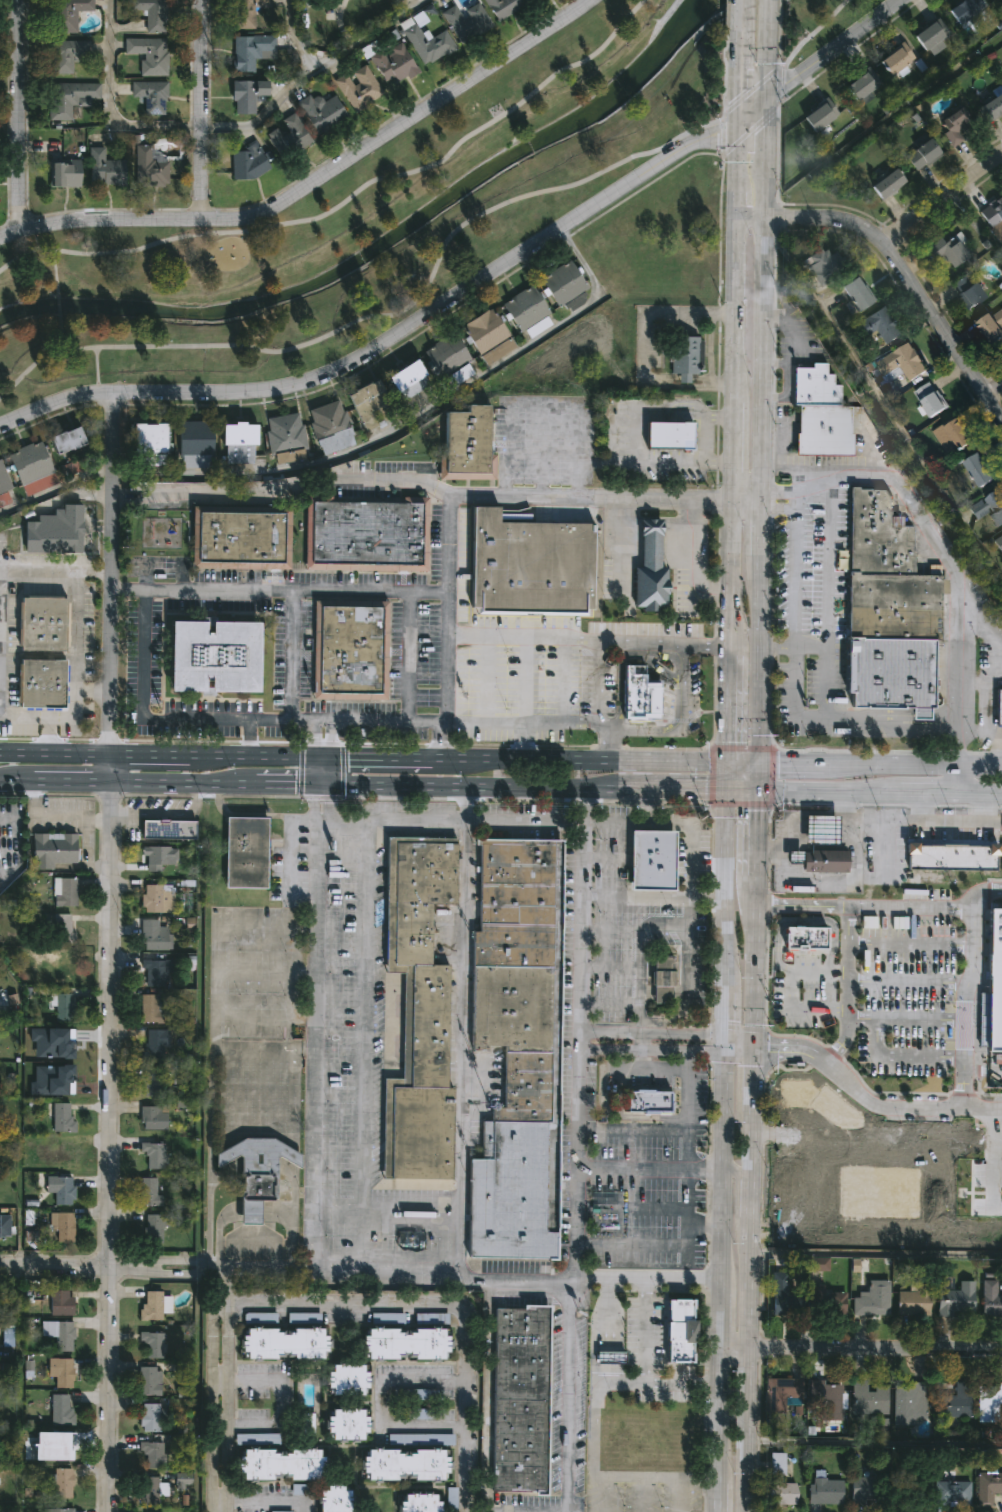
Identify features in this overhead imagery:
building: (504, 7)
building: (246, 12)
building: (963, 12)
road: (769, 13)
building: (69, 14)
road: (727, 14)
road: (740, 14)
road: (778, 15)
building: (148, 16)
building: (467, 22)
building: (930, 33)
road: (287, 39)
building: (430, 44)
road: (799, 45)
building: (251, 51)
building: (150, 54)
building: (68, 55)
building: (895, 59)
building: (395, 64)
road: (311, 72)
building: (861, 84)
building: (360, 88)
building: (249, 96)
traffic signals: (770, 96)
building: (152, 97)
building: (70, 98)
road: (109, 103)
building: (992, 106)
road: (198, 110)
building: (323, 112)
road: (17, 115)
building: (819, 115)
traffic signals: (738, 125)
building: (956, 127)
building: (290, 137)
building: (922, 155)
building: (251, 163)
building: (107, 169)
building: (151, 169)
building: (67, 175)
road: (316, 182)
building: (887, 184)
road: (346, 198)
road: (943, 199)
park: (394, 208)
building: (992, 211)
building: (948, 251)
road: (766, 263)
road: (904, 265)
building: (822, 266)
road: (55, 271)
building: (572, 279)
road: (476, 286)
building: (556, 288)
building: (968, 291)
building: (855, 294)
road: (423, 295)
road: (58, 305)
building: (535, 309)
building: (521, 317)
building: (878, 325)
building: (991, 326)
building: (493, 327)
road: (61, 336)
building: (478, 337)
road: (641, 345)
road: (710, 349)
building: (457, 356)
road: (734, 356)
building: (686, 357)
building: (901, 362)
building: (442, 365)
building: (414, 374)
building: (401, 382)
road: (992, 384)
building: (816, 387)
building: (930, 399)
building: (379, 403)
building: (365, 410)
road: (698, 411)
building: (336, 416)
building: (321, 421)
road: (640, 423)
building: (824, 430)
building: (295, 431)
building: (275, 435)
building: (952, 436)
building: (667, 437)
road: (675, 437)
road: (706, 438)
building: (76, 439)
building: (143, 439)
building: (161, 439)
building: (186, 439)
building: (204, 439)
building: (232, 442)
building: (248, 443)
building: (465, 444)
building: (62, 445)
road: (351, 449)
road: (675, 456)
building: (39, 462)
road: (637, 462)
building: (70, 468)
building: (22, 469)
building: (977, 469)
building: (3, 482)
road: (281, 491)
road: (461, 500)
road: (748, 500)
road: (781, 501)
road: (797, 505)
building: (989, 506)
building: (56, 533)
building: (366, 535)
building: (879, 538)
building: (239, 539)
building: (999, 542)
road: (693, 560)
building: (528, 568)
road: (91, 570)
building: (655, 573)
road: (797, 578)
road: (127, 591)
road: (160, 591)
road: (826, 601)
building: (894, 608)
building: (43, 625)
road: (984, 625)
road: (760, 631)
road: (522, 636)
road: (617, 641)
road: (74, 644)
road: (744, 646)
road: (779, 646)
road: (812, 648)
building: (350, 651)
road: (292, 657)
building: (215, 658)
road: (408, 658)
road: (956, 659)
building: (889, 675)
road: (979, 679)
parking lot: (520, 680)
building: (43, 684)
road: (90, 691)
building: (640, 695)
building: (999, 709)
road: (306, 721)
road: (382, 722)
road: (542, 724)
road: (682, 724)
road: (726, 724)
road: (990, 735)
road: (48, 736)
road: (249, 738)
road: (321, 738)
road: (955, 747)
road: (160, 754)
traffic signals: (321, 756)
road: (523, 757)
traffic signals: (725, 762)
road: (740, 762)
traffic signals: (756, 762)
road: (879, 763)
road: (320, 770)
road: (724, 775)
road: (756, 775)
road: (9, 778)
road: (953, 779)
road: (63, 780)
road: (175, 782)
road: (281, 784)
traffic signals: (320, 785)
road: (483, 786)
road: (685, 787)
traffic signals: (724, 788)
road: (740, 788)
traffic signals: (756, 789)
road: (827, 790)
road: (925, 793)
road: (977, 794)
road: (465, 804)
road: (581, 805)
road: (647, 805)
road: (815, 815)
road: (78, 816)
road: (166, 816)
road: (450, 822)
road: (950, 822)
road: (97, 823)
road: (670, 824)
road: (755, 829)
building: (168, 830)
building: (820, 835)
road: (1, 845)
building: (52, 848)
building: (247, 853)
building: (953, 856)
building: (159, 857)
building: (794, 859)
road: (290, 860)
building: (652, 862)
building: (825, 863)
road: (854, 885)
building: (65, 891)
road: (979, 893)
road: (652, 897)
building: (156, 898)
building: (60, 927)
building: (154, 935)
building: (805, 941)
road: (902, 946)
road: (108, 952)
road: (342, 958)
building: (64, 967)
building: (153, 970)
building: (663, 981)
road: (840, 983)
road: (902, 984)
parking lot: (886, 990)
building: (991, 991)
road: (791, 993)
building: (63, 1008)
building: (150, 1008)
building: (416, 1015)
road: (915, 1023)
parking lot: (331, 1024)
road: (959, 1024)
road: (633, 1041)
road: (212, 1042)
building: (65, 1043)
road: (704, 1043)
building: (155, 1044)
road: (738, 1044)
road: (463, 1048)
building: (517, 1051)
road: (579, 1052)
road: (880, 1059)
road: (365, 1068)
road: (980, 1074)
parking lot: (577, 1075)
building: (65, 1080)
building: (150, 1081)
road: (341, 1096)
building: (648, 1104)
road: (684, 1107)
road: (980, 1110)
building: (61, 1116)
building: (152, 1117)
road: (722, 1150)
building: (62, 1153)
building: (152, 1154)
building: (260, 1158)
road: (316, 1159)
road: (631, 1169)
road: (702, 1171)
road: (737, 1171)
building: (62, 1190)
building: (260, 1190)
building: (147, 1191)
road: (751, 1191)
building: (252, 1213)
road: (340, 1218)
building: (63, 1227)
building: (154, 1227)
road: (702, 1227)
road: (255, 1239)
road: (670, 1248)
road: (876, 1254)
road: (270, 1262)
road: (74, 1267)
road: (648, 1280)
building: (783, 1298)
building: (872, 1298)
building: (956, 1299)
building: (991, 1299)
building: (60, 1302)
building: (828, 1302)
building: (912, 1303)
building: (150, 1306)
road: (436, 1307)
building: (680, 1329)
road: (637, 1332)
building: (58, 1334)
building: (284, 1342)
building: (406, 1342)
building: (151, 1344)
road: (226, 1347)
road: (860, 1349)
building: (611, 1356)
road: (211, 1362)
building: (59, 1372)
building: (347, 1378)
road: (593, 1379)
building: (148, 1380)
road: (656, 1383)
building: (785, 1389)
road: (567, 1395)
road: (487, 1396)
building: (828, 1398)
building: (870, 1398)
road: (282, 1401)
building: (520, 1401)
building: (910, 1402)
building: (990, 1402)
building: (954, 1405)
road: (380, 1406)
building: (60, 1410)
building: (148, 1417)
building: (347, 1423)
road: (874, 1445)
building: (62, 1447)
building: (151, 1454)
building: (283, 1463)
building: (404, 1463)
road: (660, 1477)
building: (779, 1482)
building: (62, 1484)
building: (990, 1488)
building: (147, 1490)
building: (861, 1490)
building: (954, 1490)
building: (826, 1491)
road: (602, 1494)
building: (336, 1499)
building: (417, 1502)
road: (260, 1504)
building: (59, 1510)

